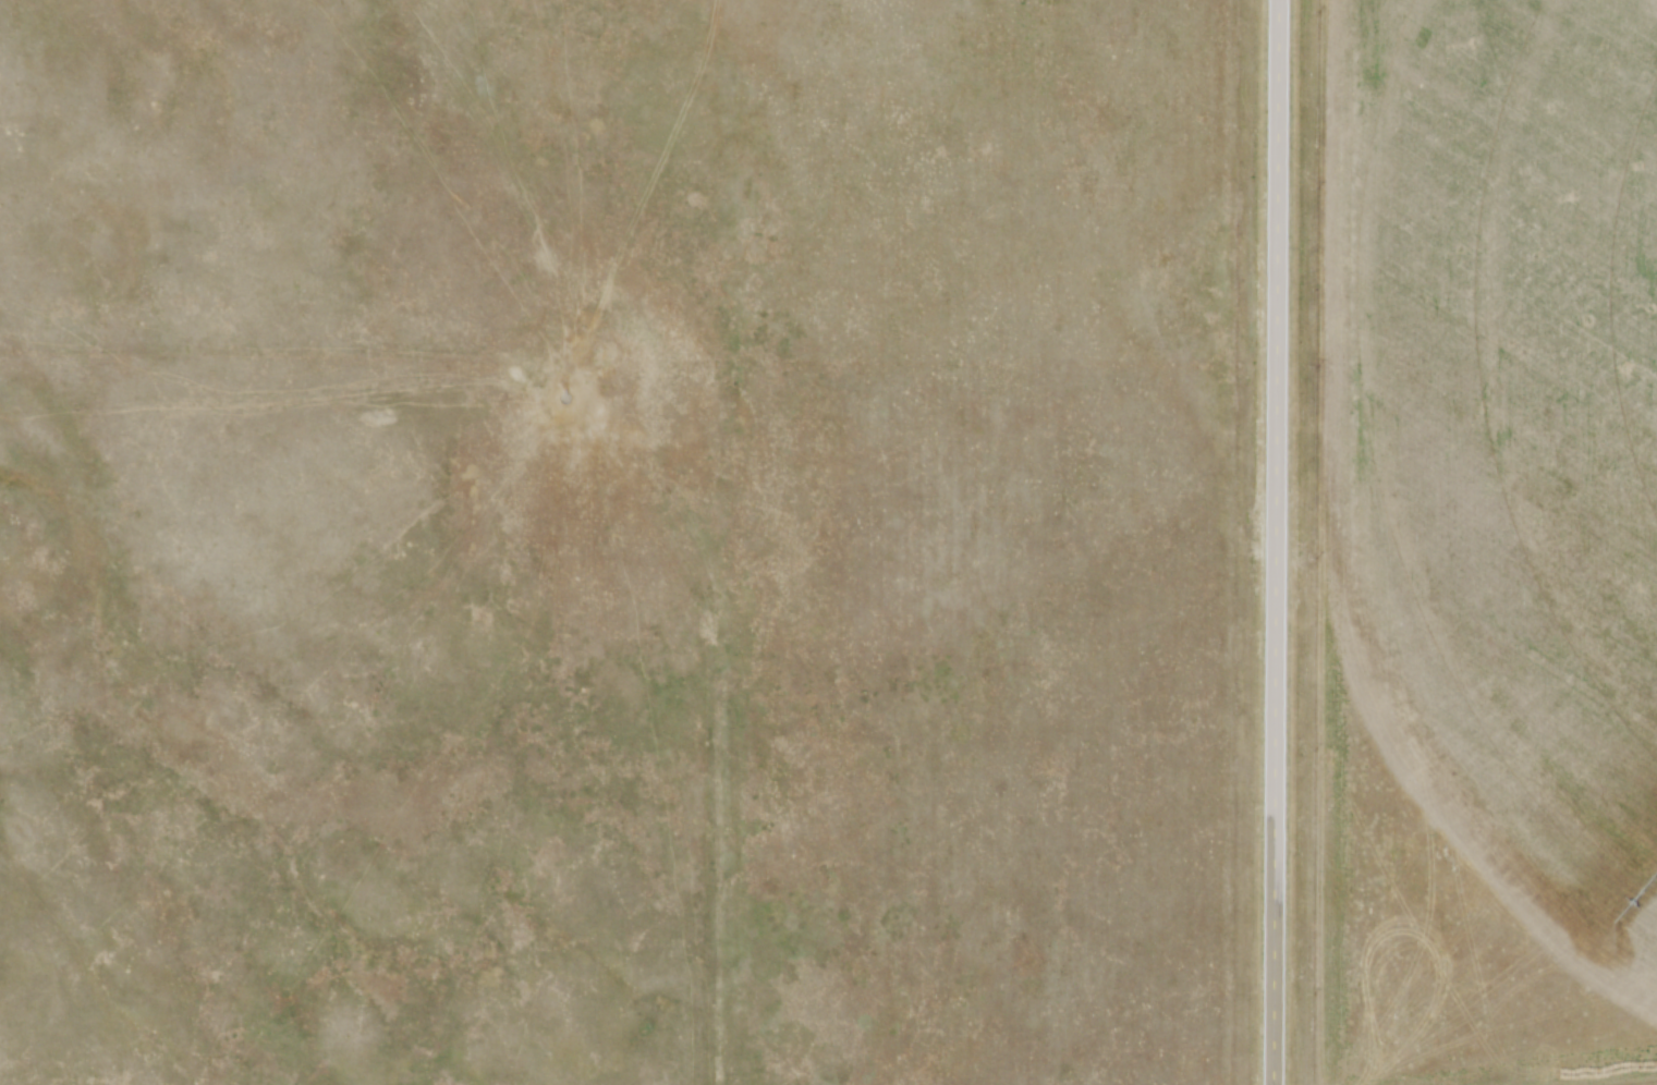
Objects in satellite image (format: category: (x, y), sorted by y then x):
road: (1271, 542)

